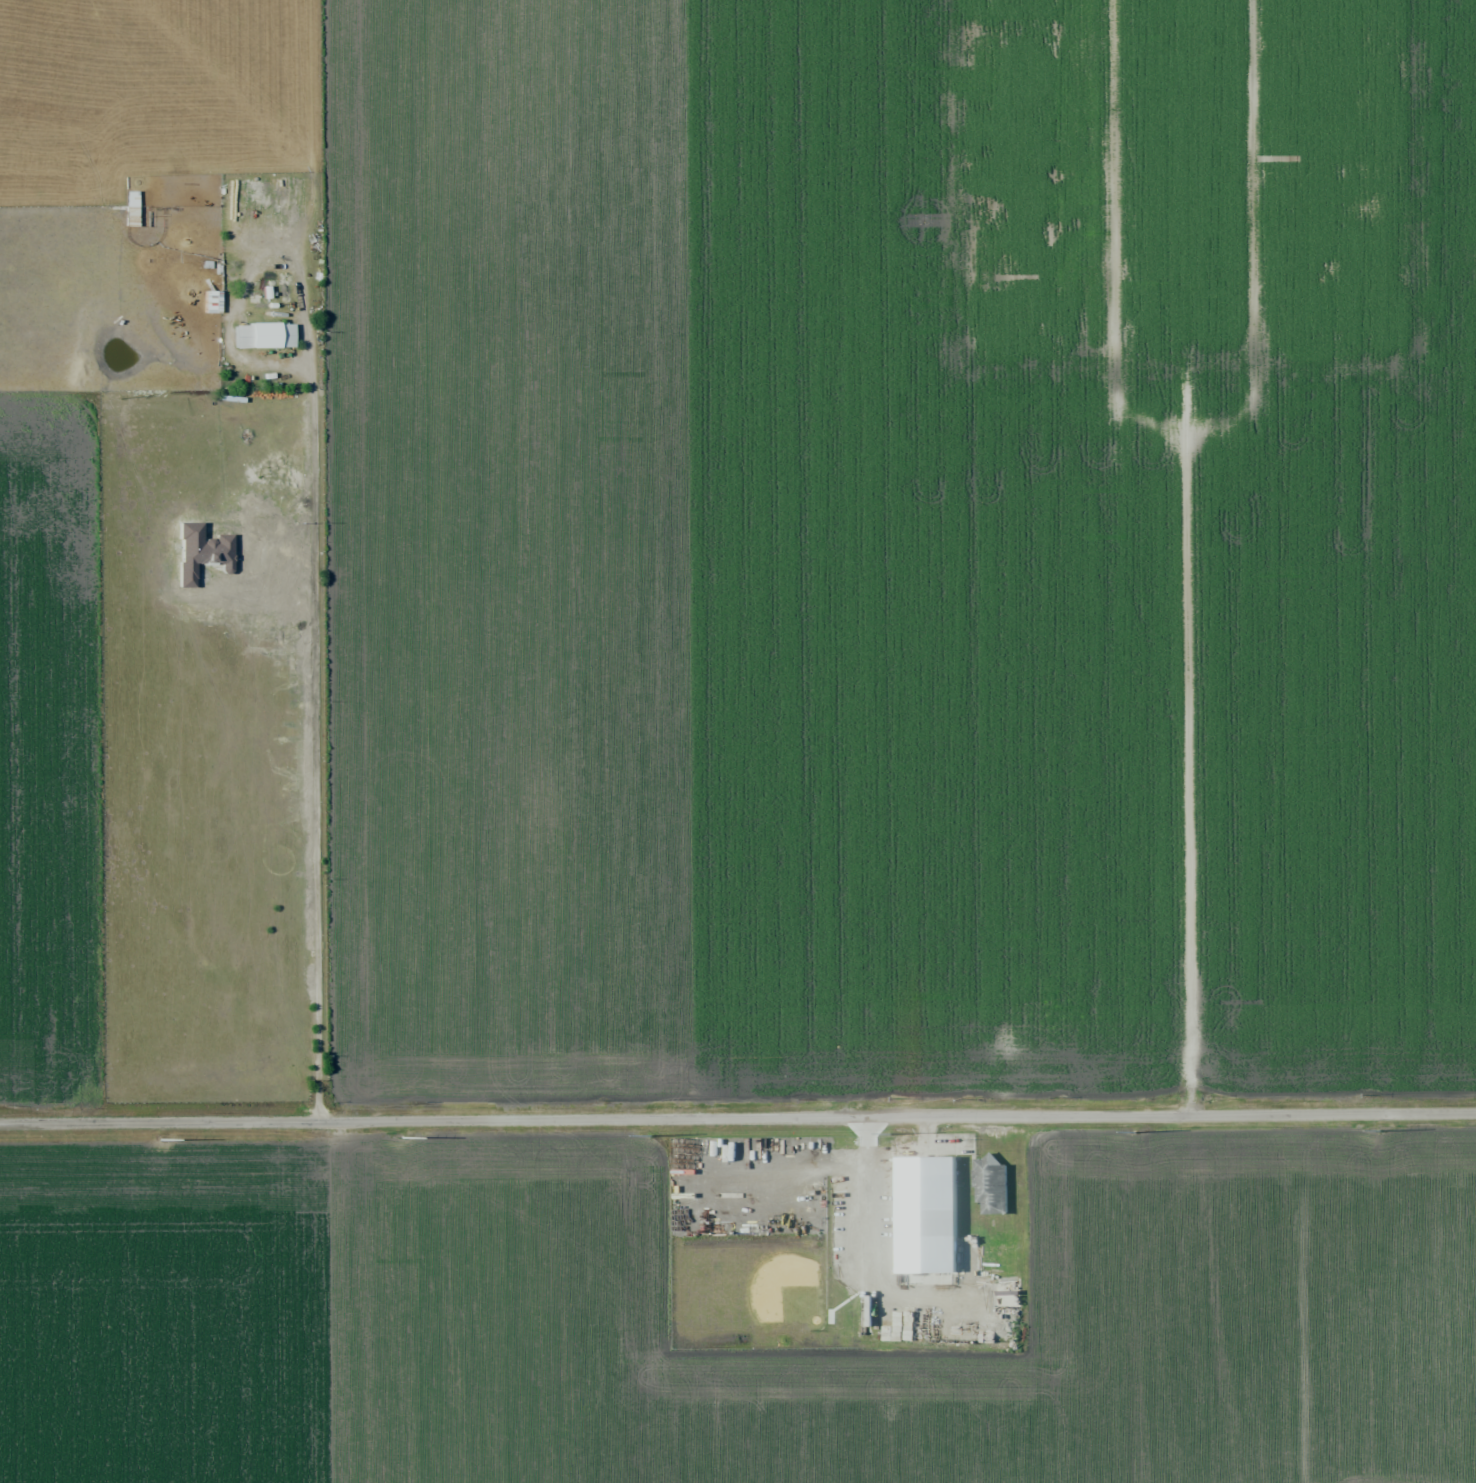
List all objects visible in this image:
building: (138, 215)
building: (271, 335)
road: (738, 1110)
power tower: (1384, 1129)
power tower: (1136, 1130)
power tower: (893, 1131)
power tower: (652, 1134)
power tower: (405, 1135)
power tower: (158, 1140)
building: (992, 1186)
building: (927, 1214)

